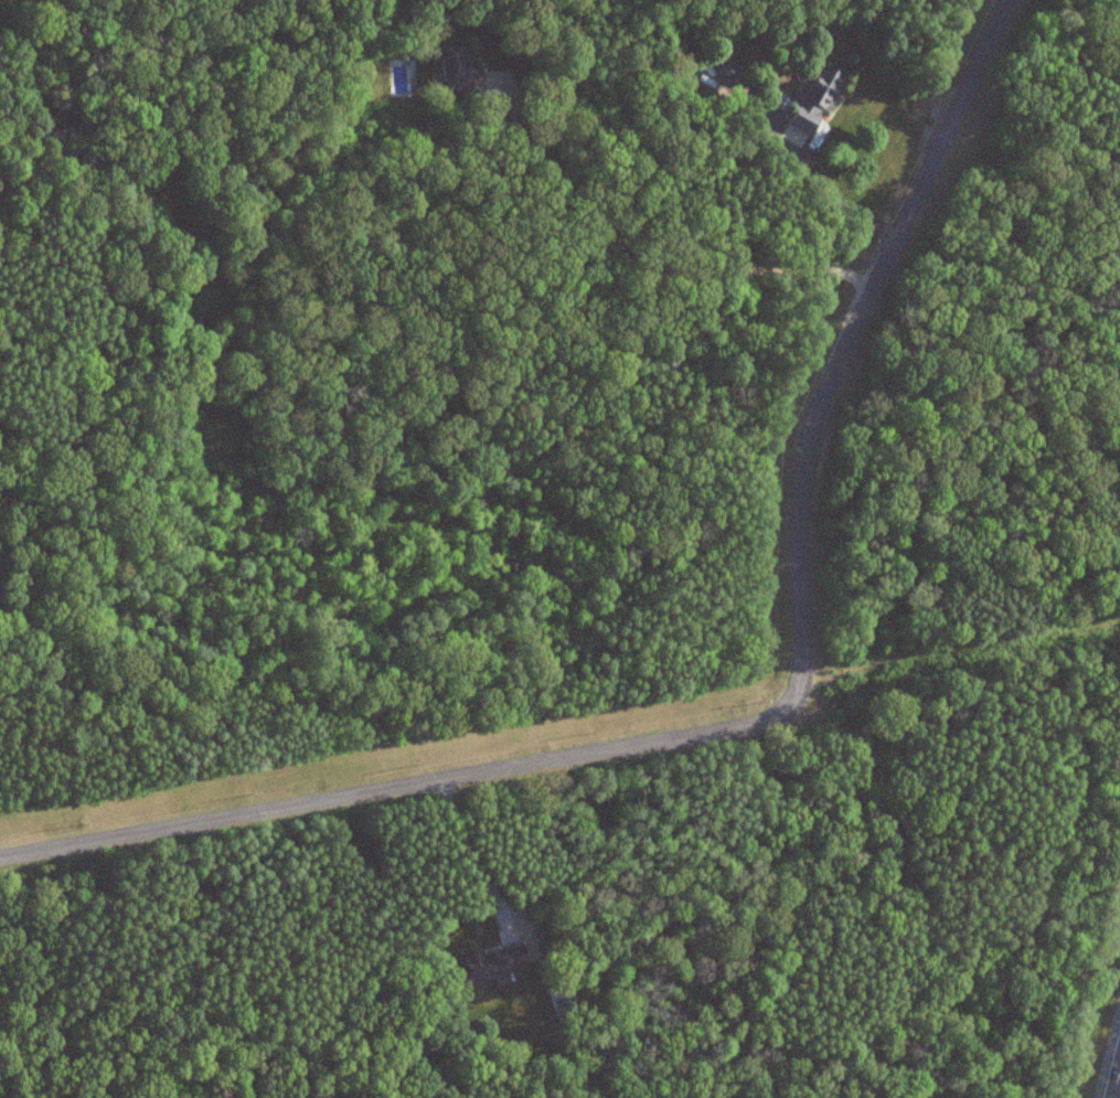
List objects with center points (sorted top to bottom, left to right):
building: (450, 64)
building: (718, 67)
building: (813, 100)
road: (839, 199)
road: (648, 267)
road: (783, 621)
road: (105, 822)
road: (463, 836)
building: (490, 964)
road: (1102, 1030)

